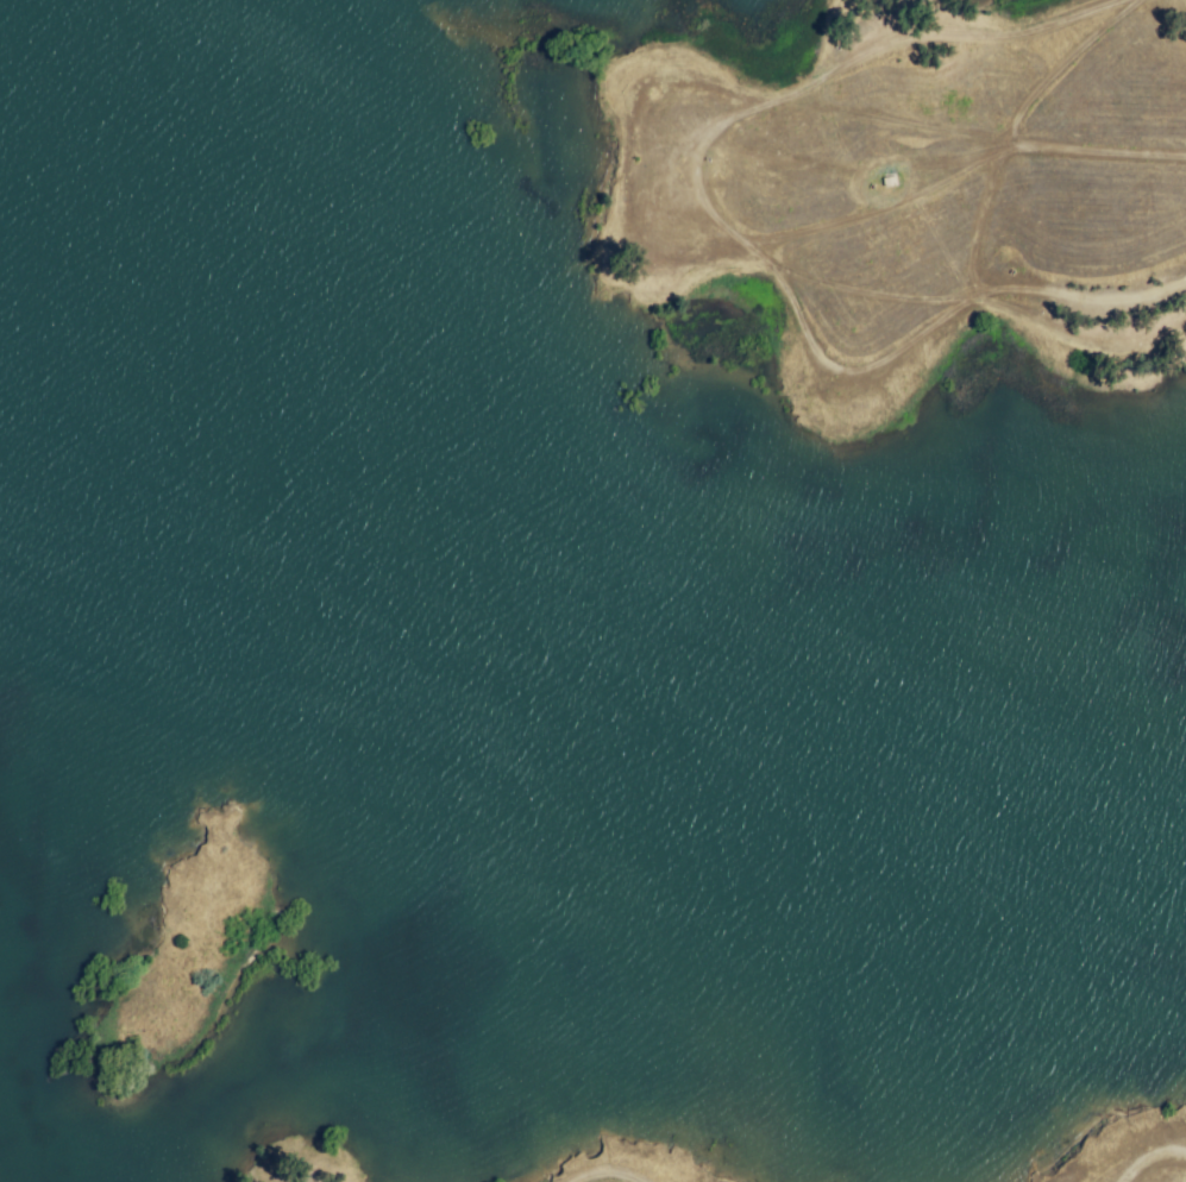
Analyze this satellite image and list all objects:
road: (1149, 1156)

